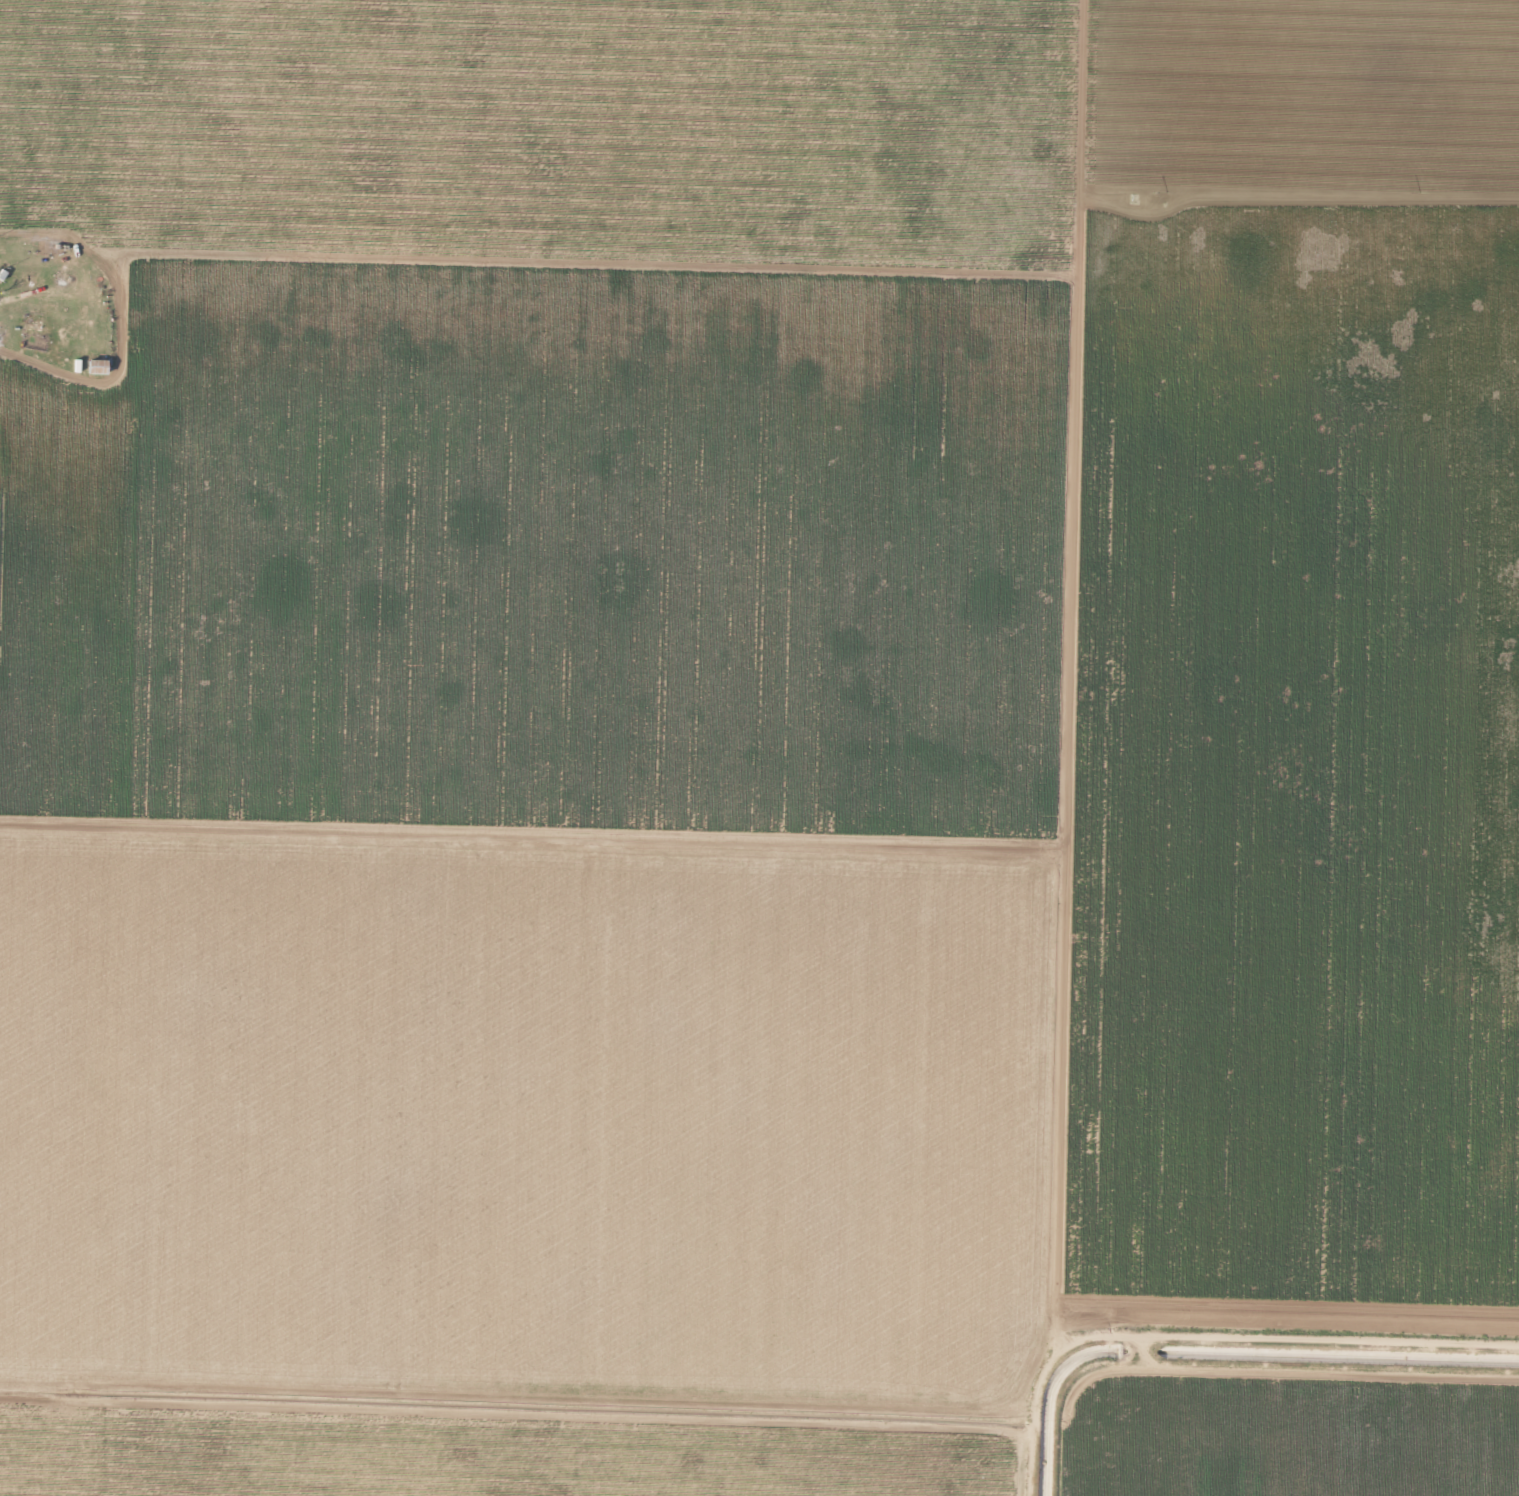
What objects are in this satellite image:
building: (36, 322)
building: (98, 367)

